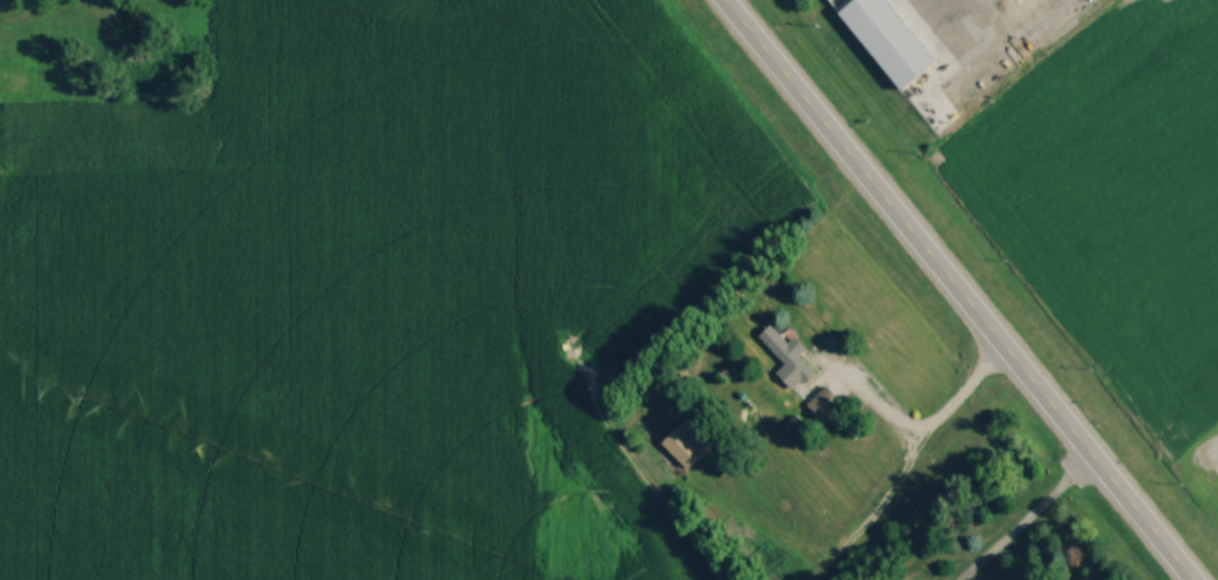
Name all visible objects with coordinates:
road: (989, 13)
building: (889, 39)
building: (14, 78)
building: (49, 78)
road: (950, 290)
building: (787, 357)
building: (823, 401)
road: (934, 430)
building: (687, 443)
road: (1027, 523)

